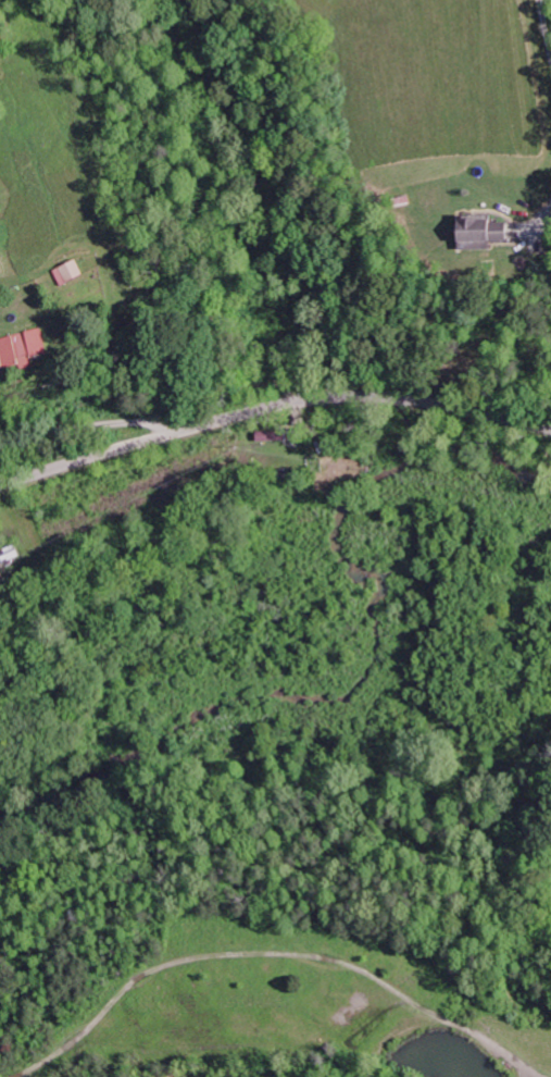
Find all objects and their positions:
building: (487, 231)
building: (73, 272)
building: (24, 348)
road: (379, 393)
road: (104, 424)
building: (274, 435)
road: (103, 453)

